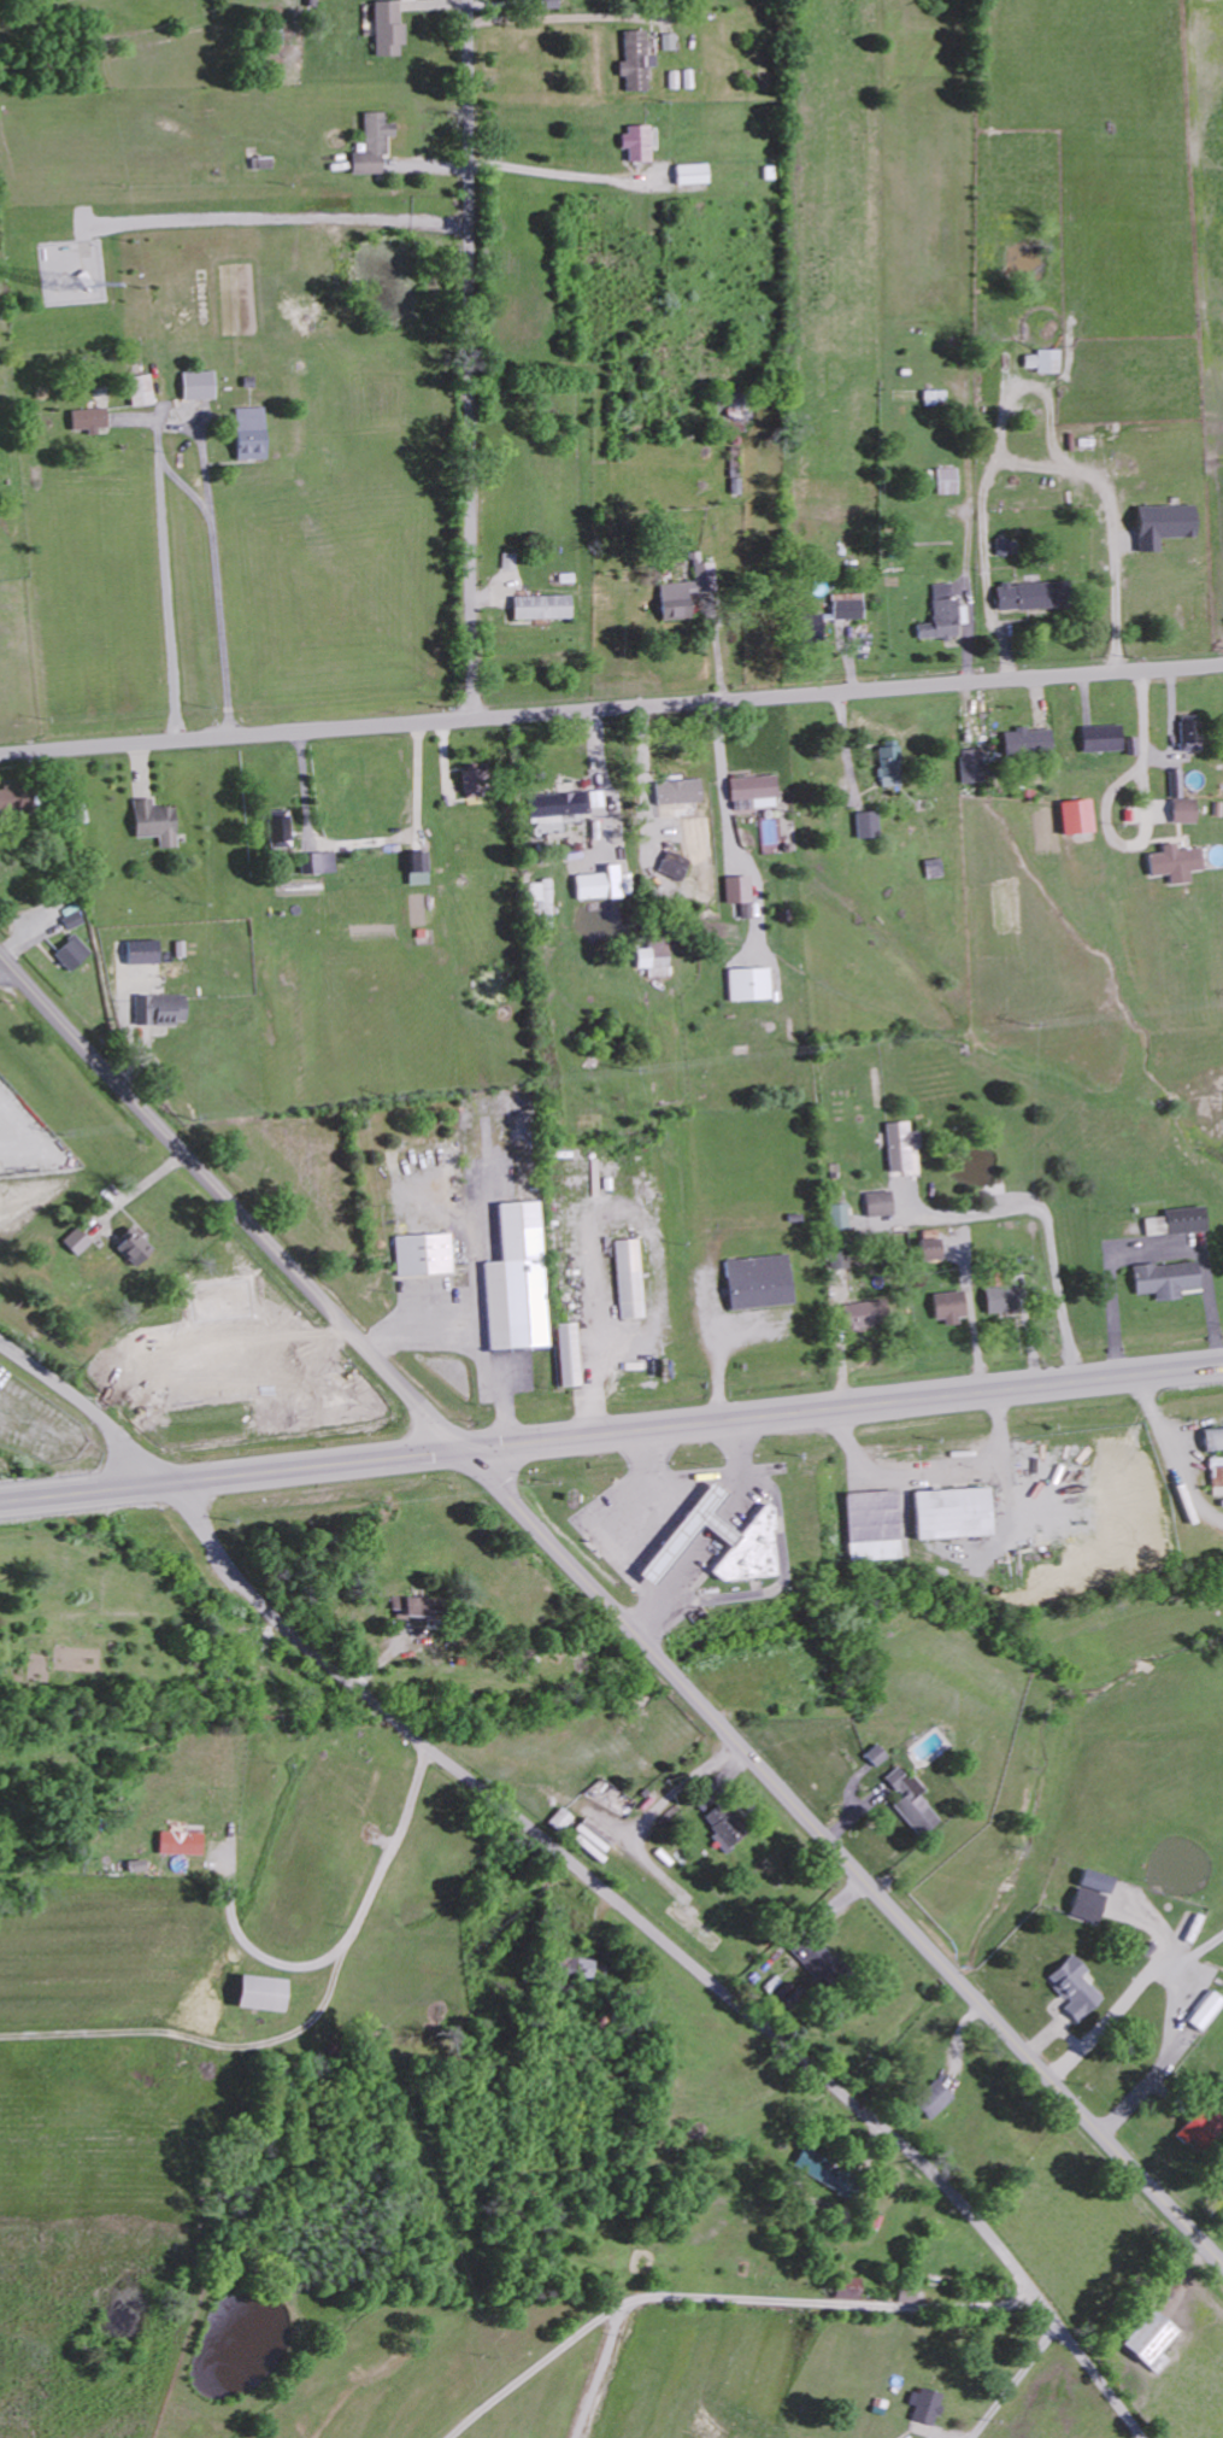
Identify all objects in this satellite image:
building: (386, 28)
building: (669, 41)
building: (635, 60)
building: (635, 141)
building: (370, 143)
road: (568, 174)
building: (692, 174)
building: (201, 298)
road: (472, 358)
building: (1043, 361)
building: (195, 385)
building: (140, 389)
building: (933, 394)
building: (729, 411)
building: (87, 418)
building: (247, 433)
road: (995, 493)
building: (1160, 524)
road: (218, 563)
building: (684, 590)
road: (163, 594)
building: (1027, 596)
road: (1112, 600)
building: (846, 605)
building: (541, 606)
building: (940, 620)
road: (611, 709)
building: (1188, 735)
building: (1099, 738)
building: (1025, 742)
building: (888, 764)
building: (971, 766)
building: (470, 783)
building: (753, 791)
building: (678, 797)
building: (10, 801)
building: (563, 803)
building: (1182, 810)
building: (1074, 816)
road: (1145, 820)
building: (153, 822)
building: (866, 825)
building: (277, 832)
road: (365, 842)
building: (321, 862)
building: (1174, 863)
building: (416, 867)
building: (674, 867)
building: (598, 884)
building: (736, 889)
building: (542, 901)
building: (745, 910)
building: (142, 951)
building: (71, 953)
building: (653, 957)
building: (748, 984)
building: (161, 1009)
building: (896, 1147)
road: (235, 1197)
building: (877, 1203)
building: (836, 1217)
building: (1175, 1221)
road: (1043, 1224)
building: (75, 1242)
building: (130, 1247)
road: (1151, 1247)
building: (927, 1249)
building: (423, 1255)
building: (837, 1262)
building: (628, 1279)
building: (1164, 1279)
building: (516, 1280)
building: (757, 1282)
building: (999, 1300)
building: (946, 1307)
building: (860, 1317)
road: (595, 1334)
road: (471, 1348)
building: (565, 1355)
road: (87, 1399)
road: (846, 1410)
building: (1212, 1440)
building: (1216, 1476)
road: (235, 1478)
road: (695, 1479)
building: (951, 1514)
building: (870, 1526)
gas station: (692, 1535)
building: (718, 1542)
road: (623, 1554)
building: (407, 1606)
building: (875, 1754)
road: (665, 1798)
building: (909, 1800)
building: (558, 1818)
building: (722, 1828)
building: (178, 1842)
road: (846, 1856)
road: (364, 1899)
building: (1084, 1904)
building: (693, 1926)
road: (674, 1948)
building: (811, 1954)
building: (578, 1969)
building: (1071, 1986)
building: (255, 1992)
road: (1128, 1994)
building: (1205, 2011)
road: (1168, 2058)
building: (931, 2099)
building: (819, 2168)
building: (845, 2287)
road: (721, 2311)
building: (1148, 2340)
road: (1017, 2381)
road: (592, 2383)
building: (925, 2405)

